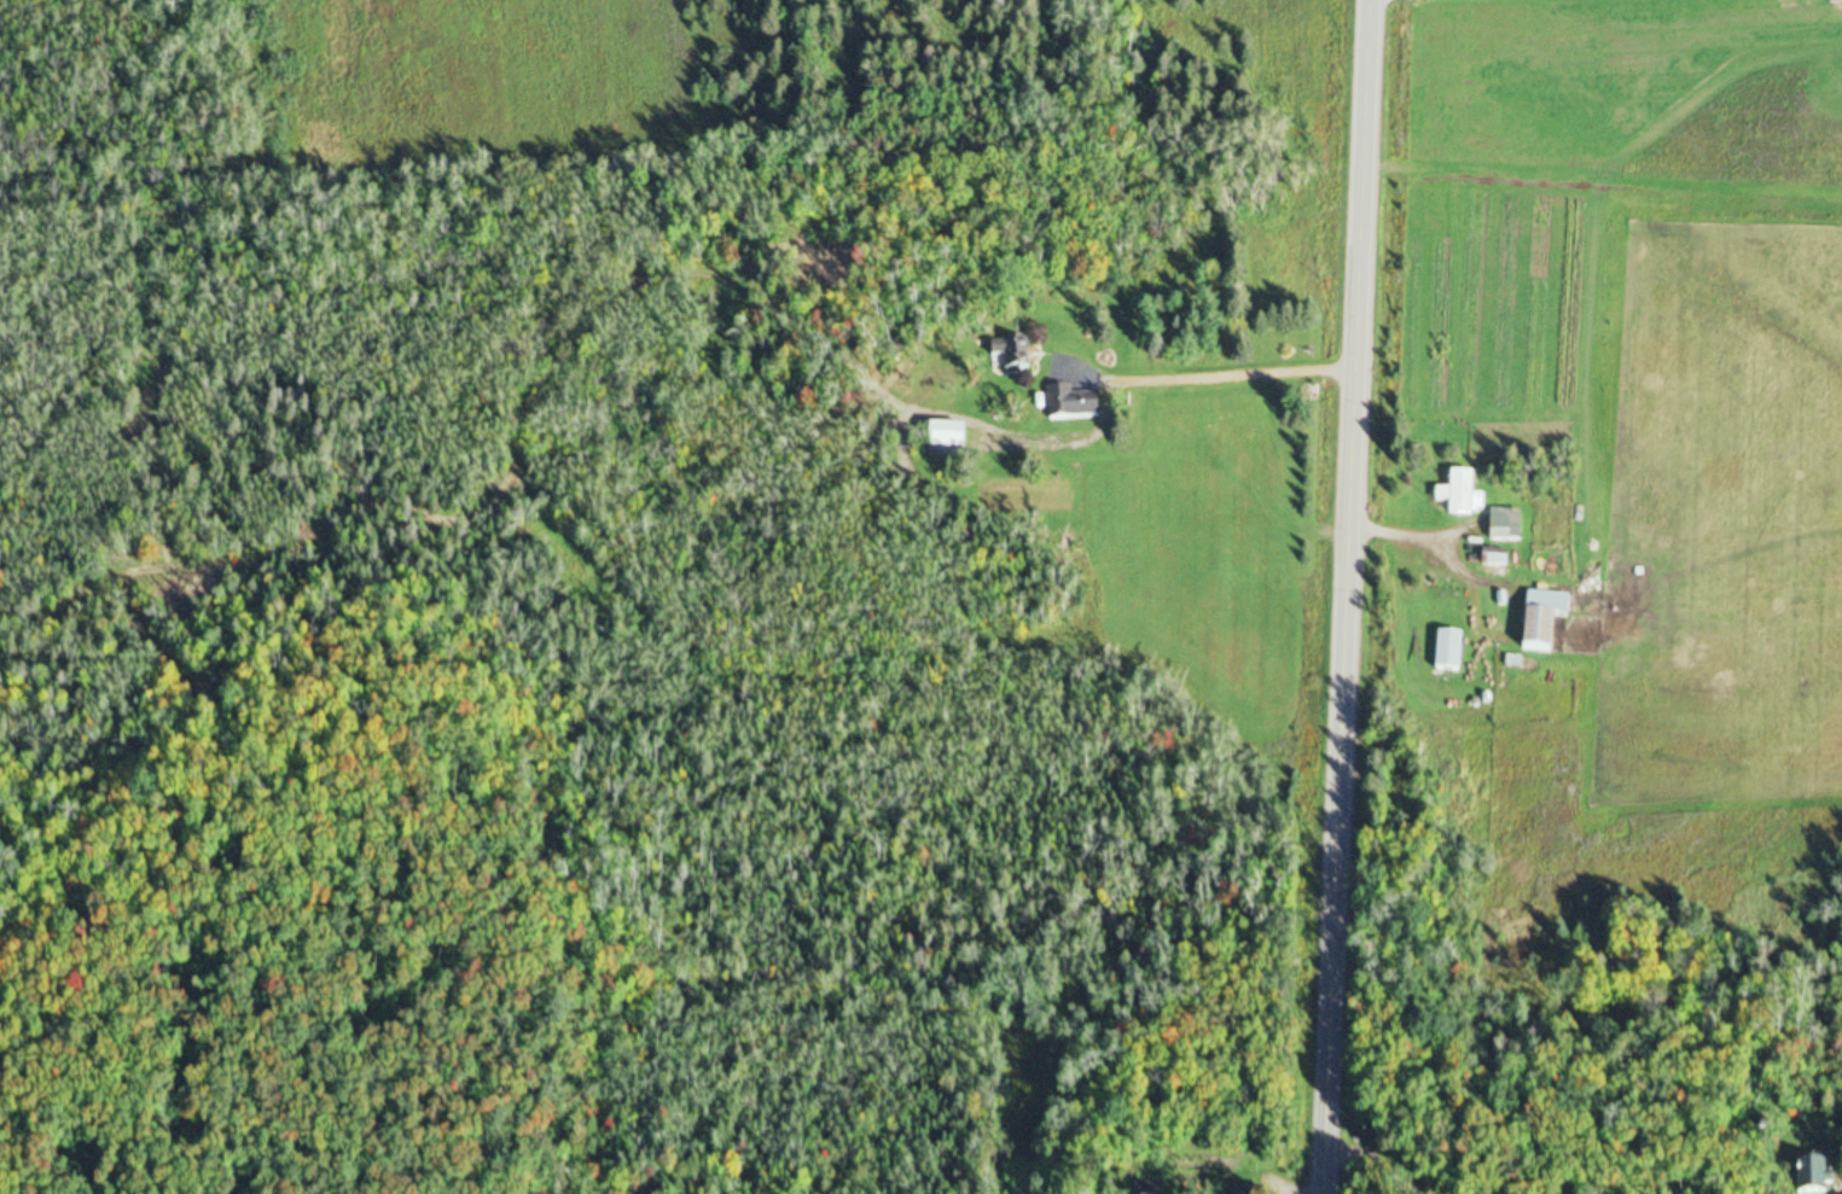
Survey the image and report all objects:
building: (1017, 356)
building: (1076, 406)
building: (952, 439)
building: (1465, 496)
building: (1510, 526)
building: (1498, 560)
road: (1349, 596)
building: (1548, 619)
building: (1452, 652)
building: (1823, 1180)
building: (1253, 1192)

